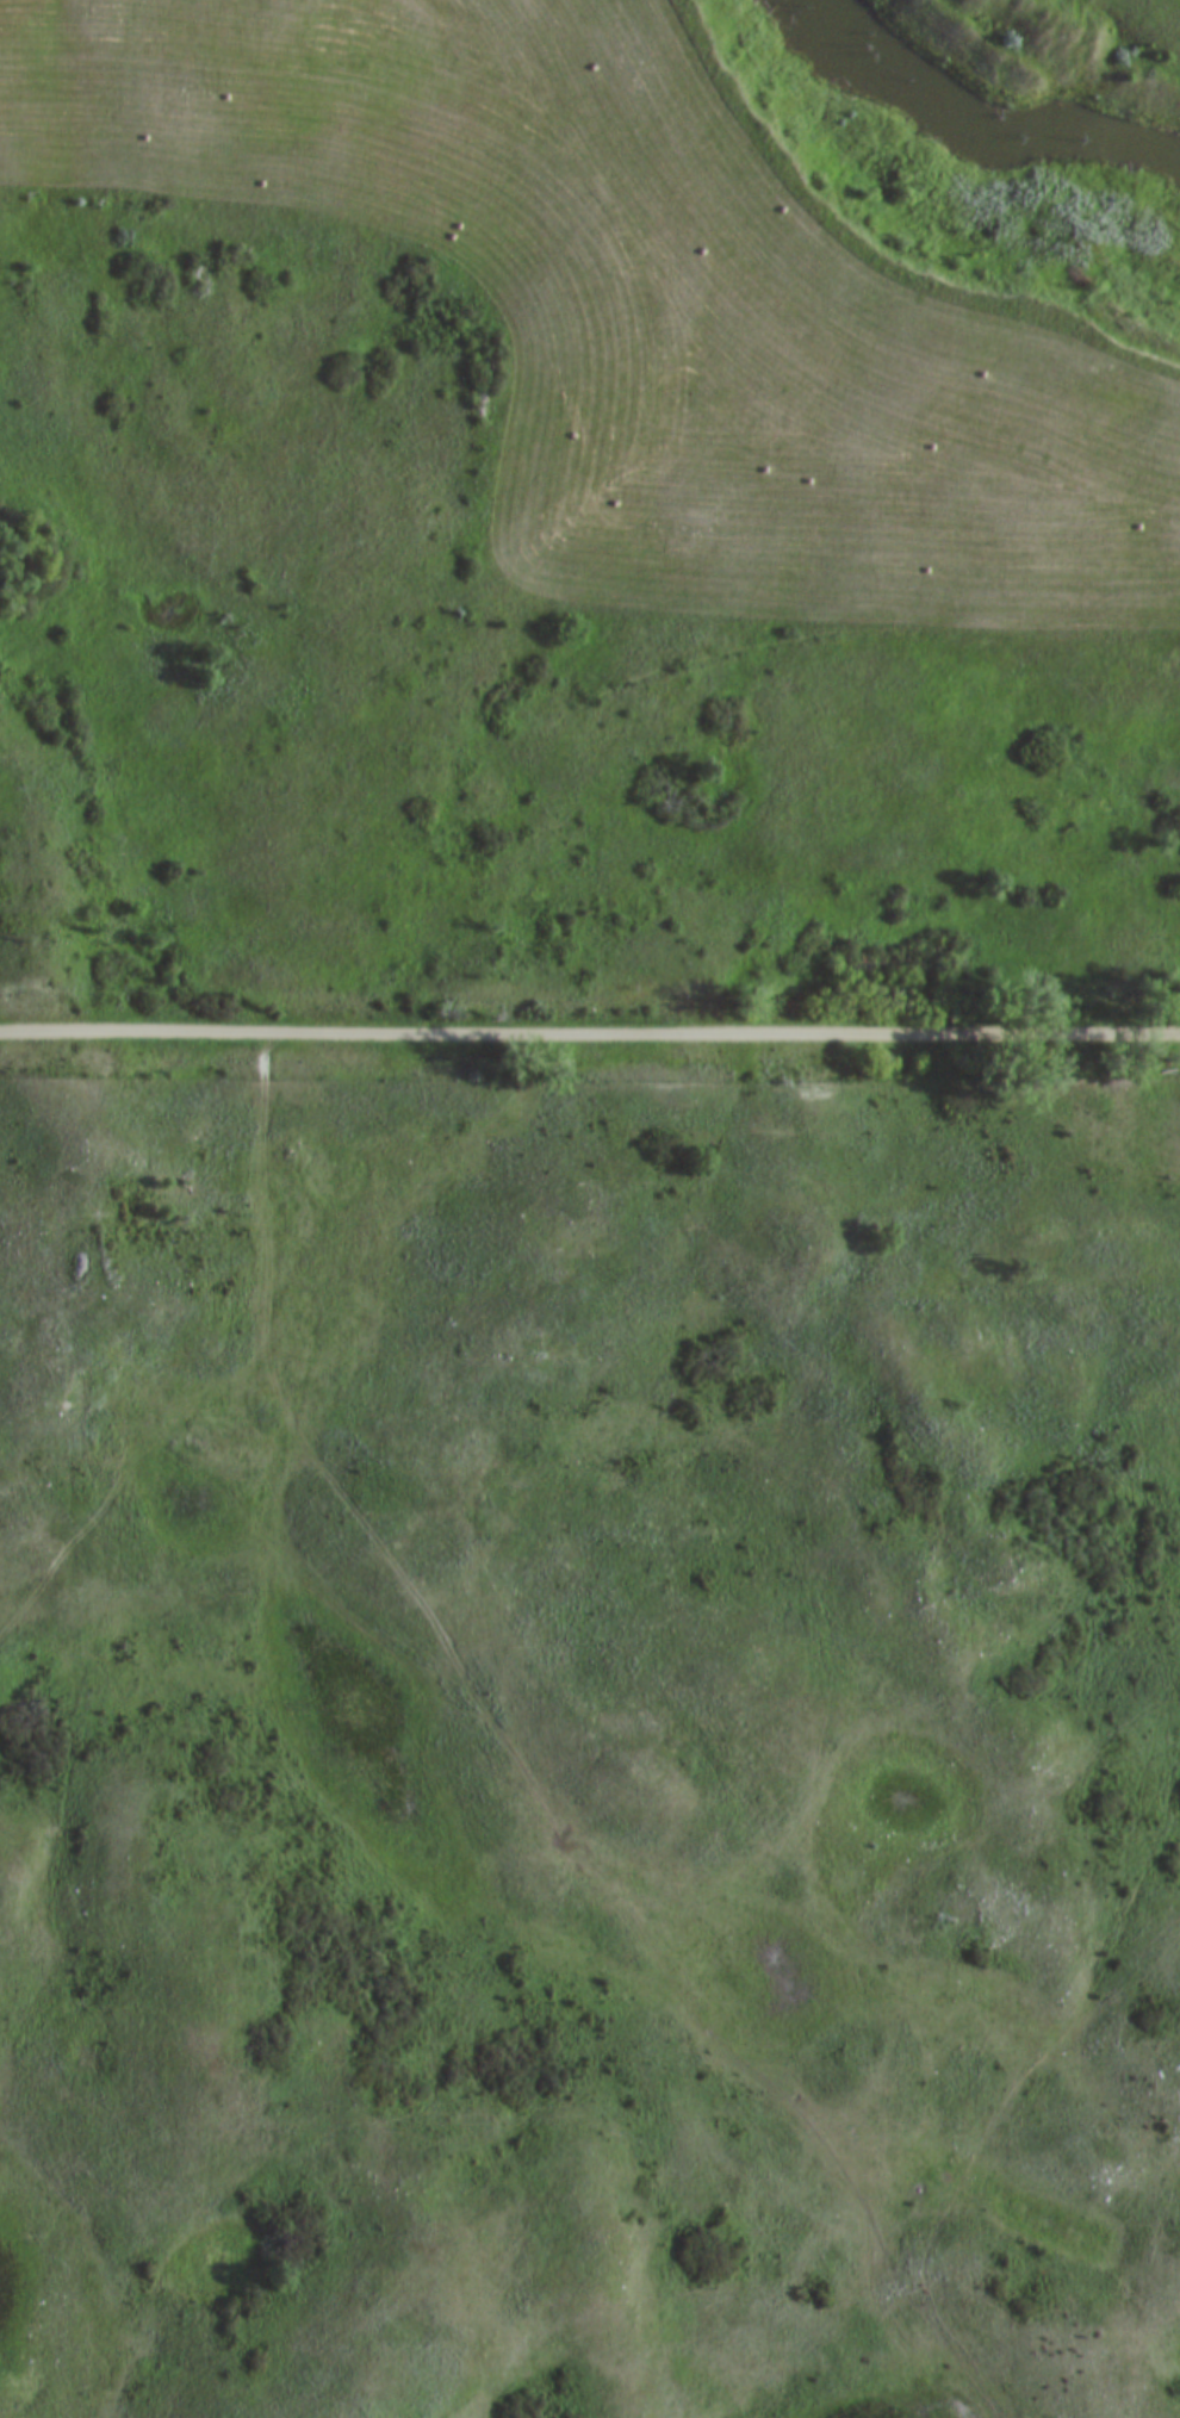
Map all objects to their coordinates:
quarry: (989, 133)
road: (589, 1033)

